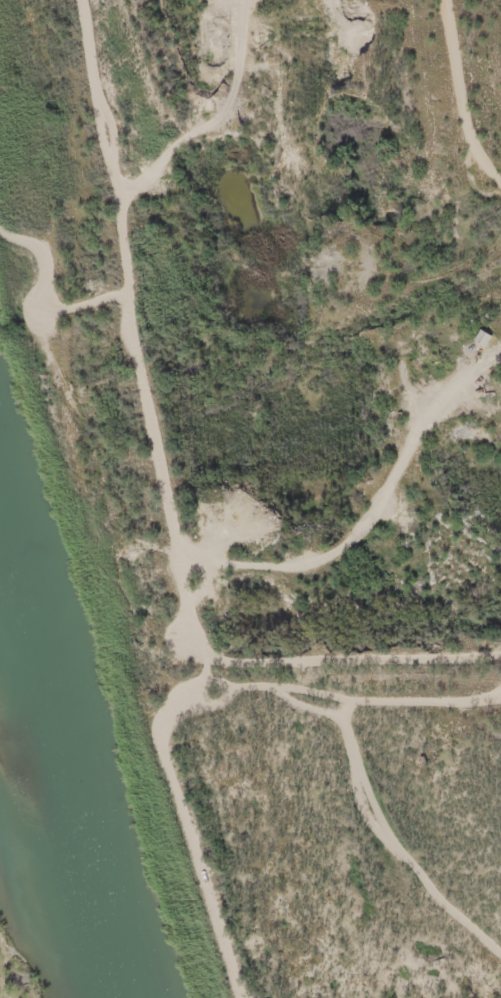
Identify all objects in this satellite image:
road: (353, 155)
road: (181, 503)
river: (43, 751)

